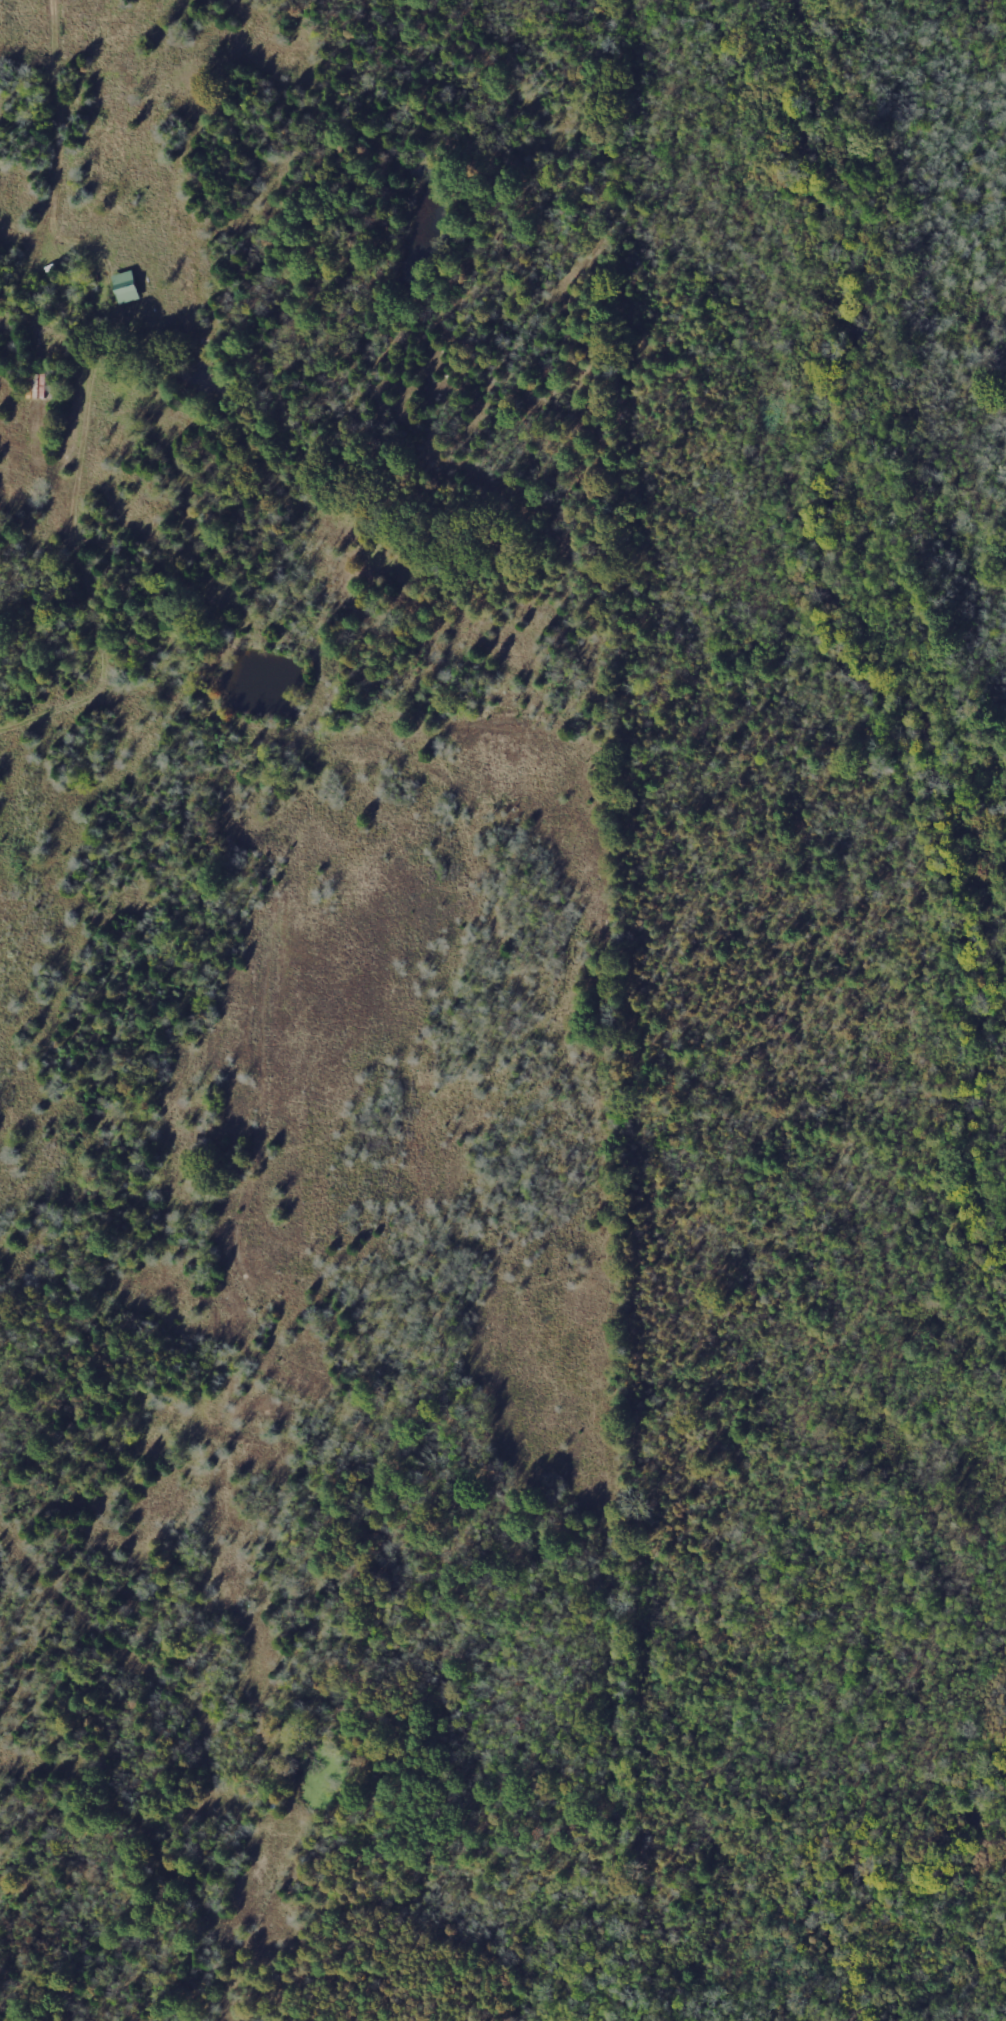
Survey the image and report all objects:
road: (31, 116)

